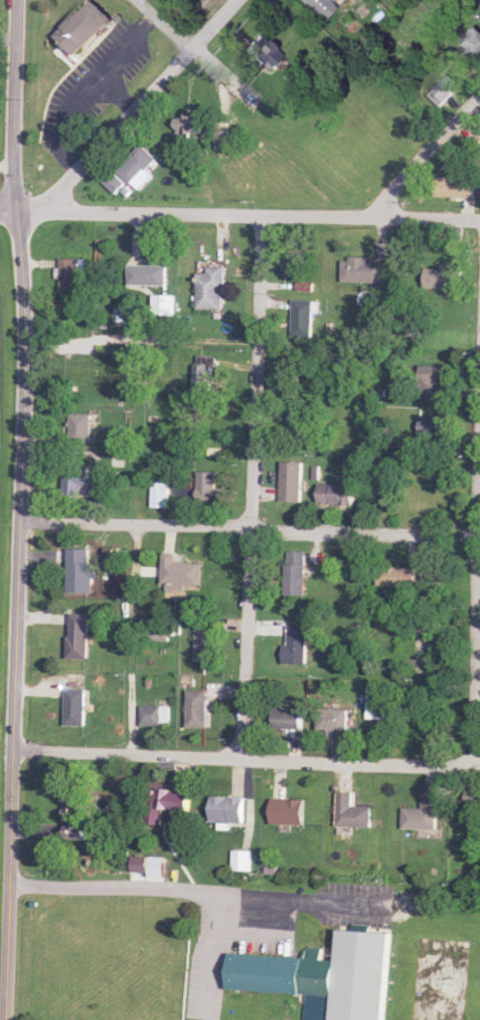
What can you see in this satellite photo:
building: (322, 6)
building: (83, 28)
building: (470, 43)
road: (179, 51)
building: (265, 53)
building: (442, 91)
road: (88, 95)
road: (122, 95)
road: (145, 105)
building: (324, 117)
building: (193, 125)
road: (423, 159)
building: (139, 167)
building: (115, 183)
building: (455, 186)
road: (9, 211)
road: (249, 221)
building: (292, 263)
building: (364, 270)
building: (73, 273)
building: (148, 274)
building: (444, 278)
building: (212, 288)
building: (164, 304)
building: (303, 318)
road: (136, 334)
building: (207, 372)
building: (437, 383)
building: (300, 422)
building: (81, 428)
building: (434, 429)
building: (76, 480)
building: (294, 482)
building: (210, 486)
road: (252, 492)
building: (339, 493)
building: (162, 494)
road: (21, 510)
road: (26, 522)
road: (248, 531)
building: (80, 570)
building: (182, 572)
building: (297, 573)
building: (396, 576)
building: (434, 576)
building: (160, 628)
building: (79, 636)
building: (208, 641)
building: (299, 646)
road: (477, 655)
building: (76, 702)
building: (380, 704)
building: (200, 709)
building: (156, 716)
building: (291, 718)
building: (336, 719)
road: (247, 762)
building: (473, 801)
building: (167, 804)
building: (230, 809)
building: (289, 811)
building: (353, 812)
building: (424, 815)
building: (77, 816)
building: (142, 864)
road: (191, 896)
building: (329, 975)

